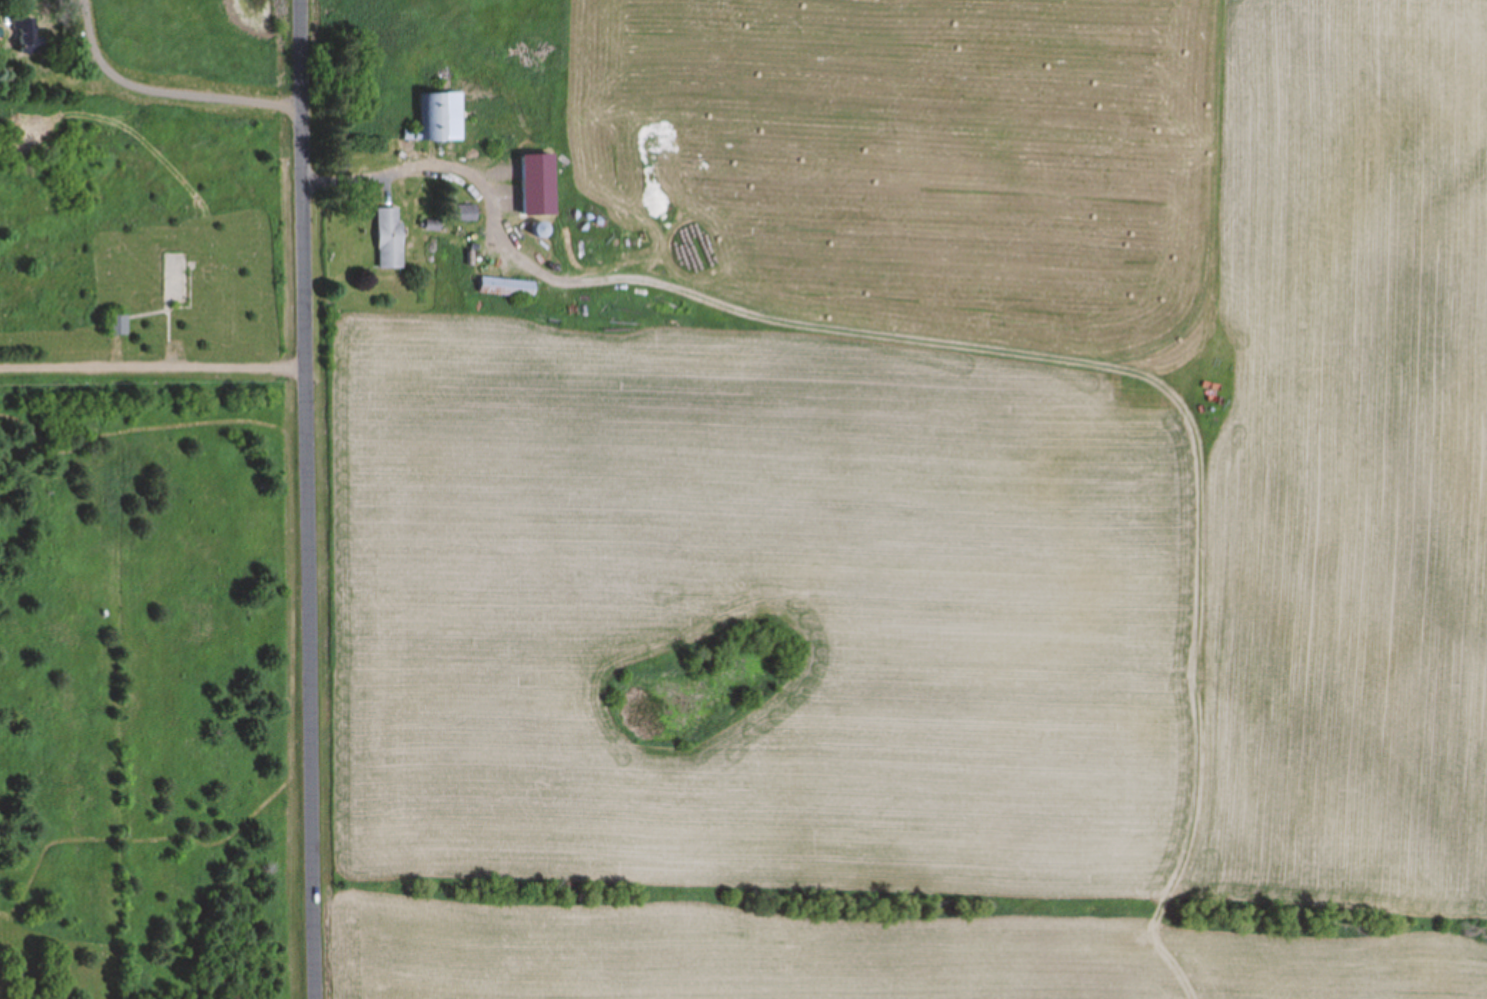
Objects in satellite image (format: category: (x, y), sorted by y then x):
building: (0, 35)
building: (27, 38)
building: (434, 120)
building: (466, 214)
building: (540, 231)
building: (389, 239)
building: (175, 278)
building: (506, 288)
building: (117, 326)
road: (311, 499)

